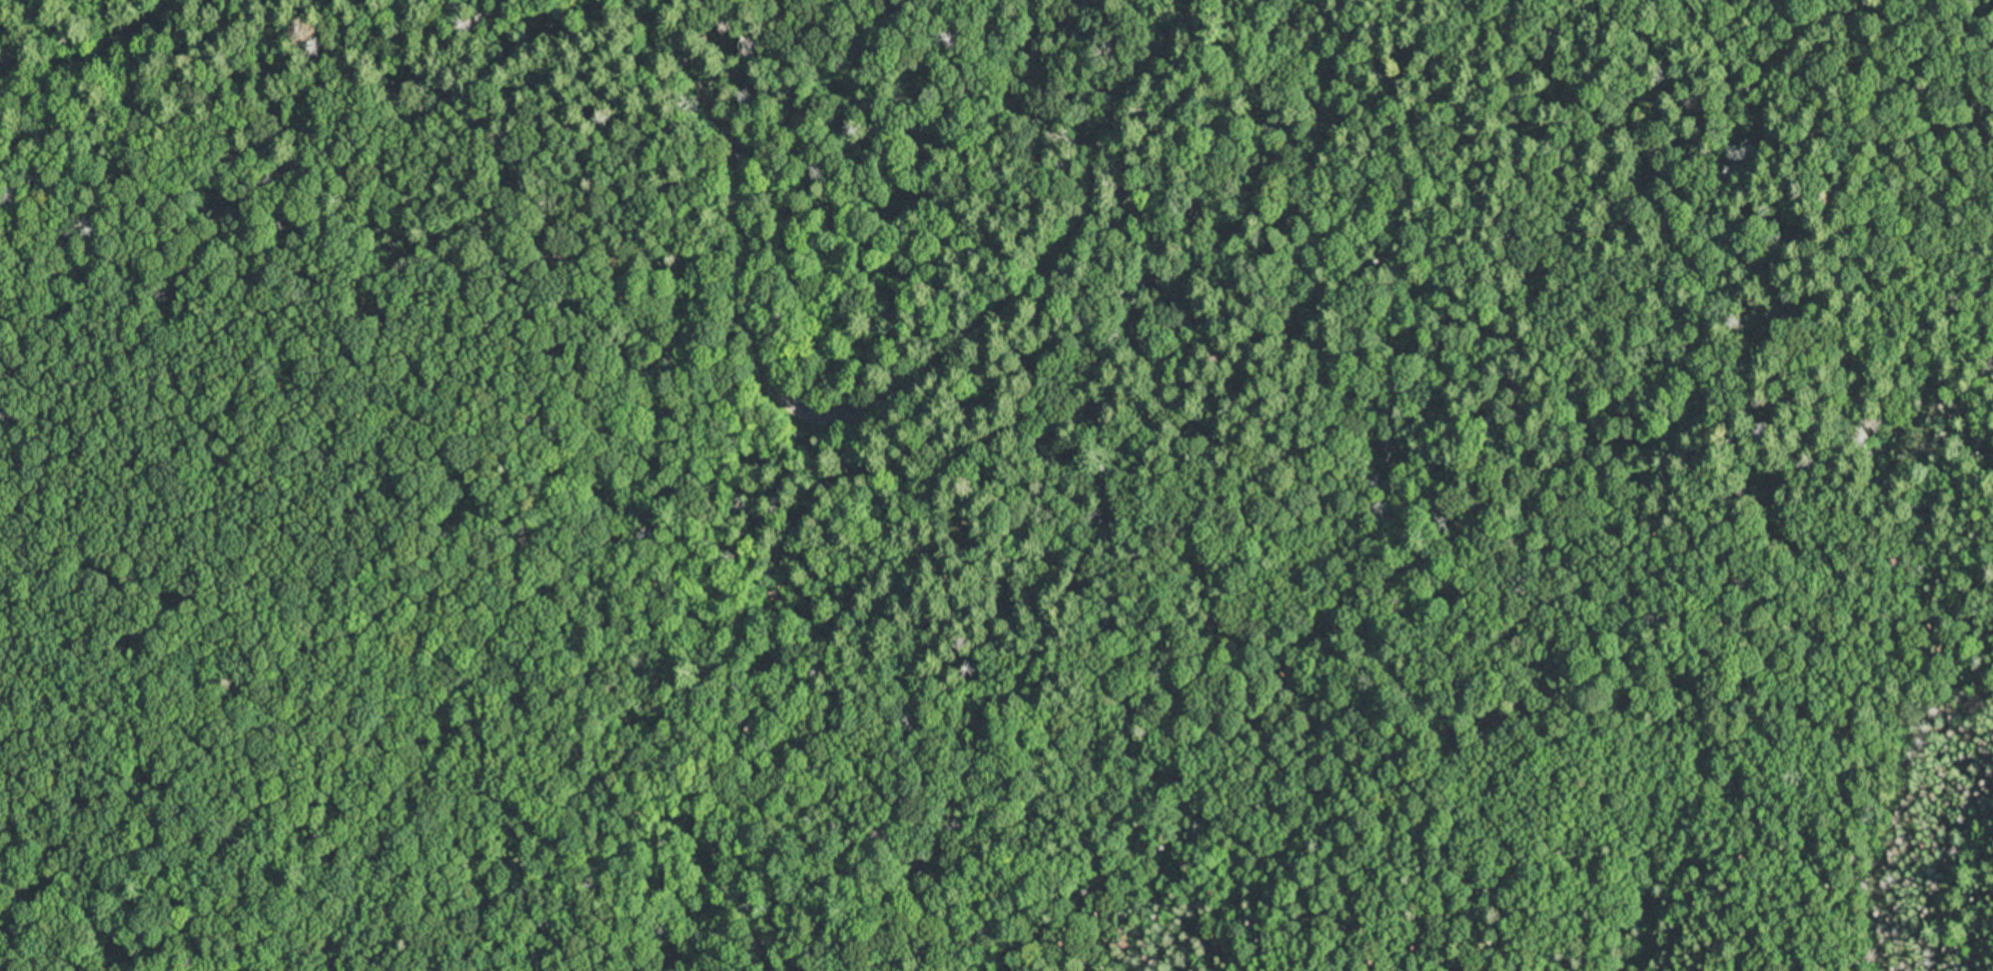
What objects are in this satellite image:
road: (93, 50)
road: (879, 408)

